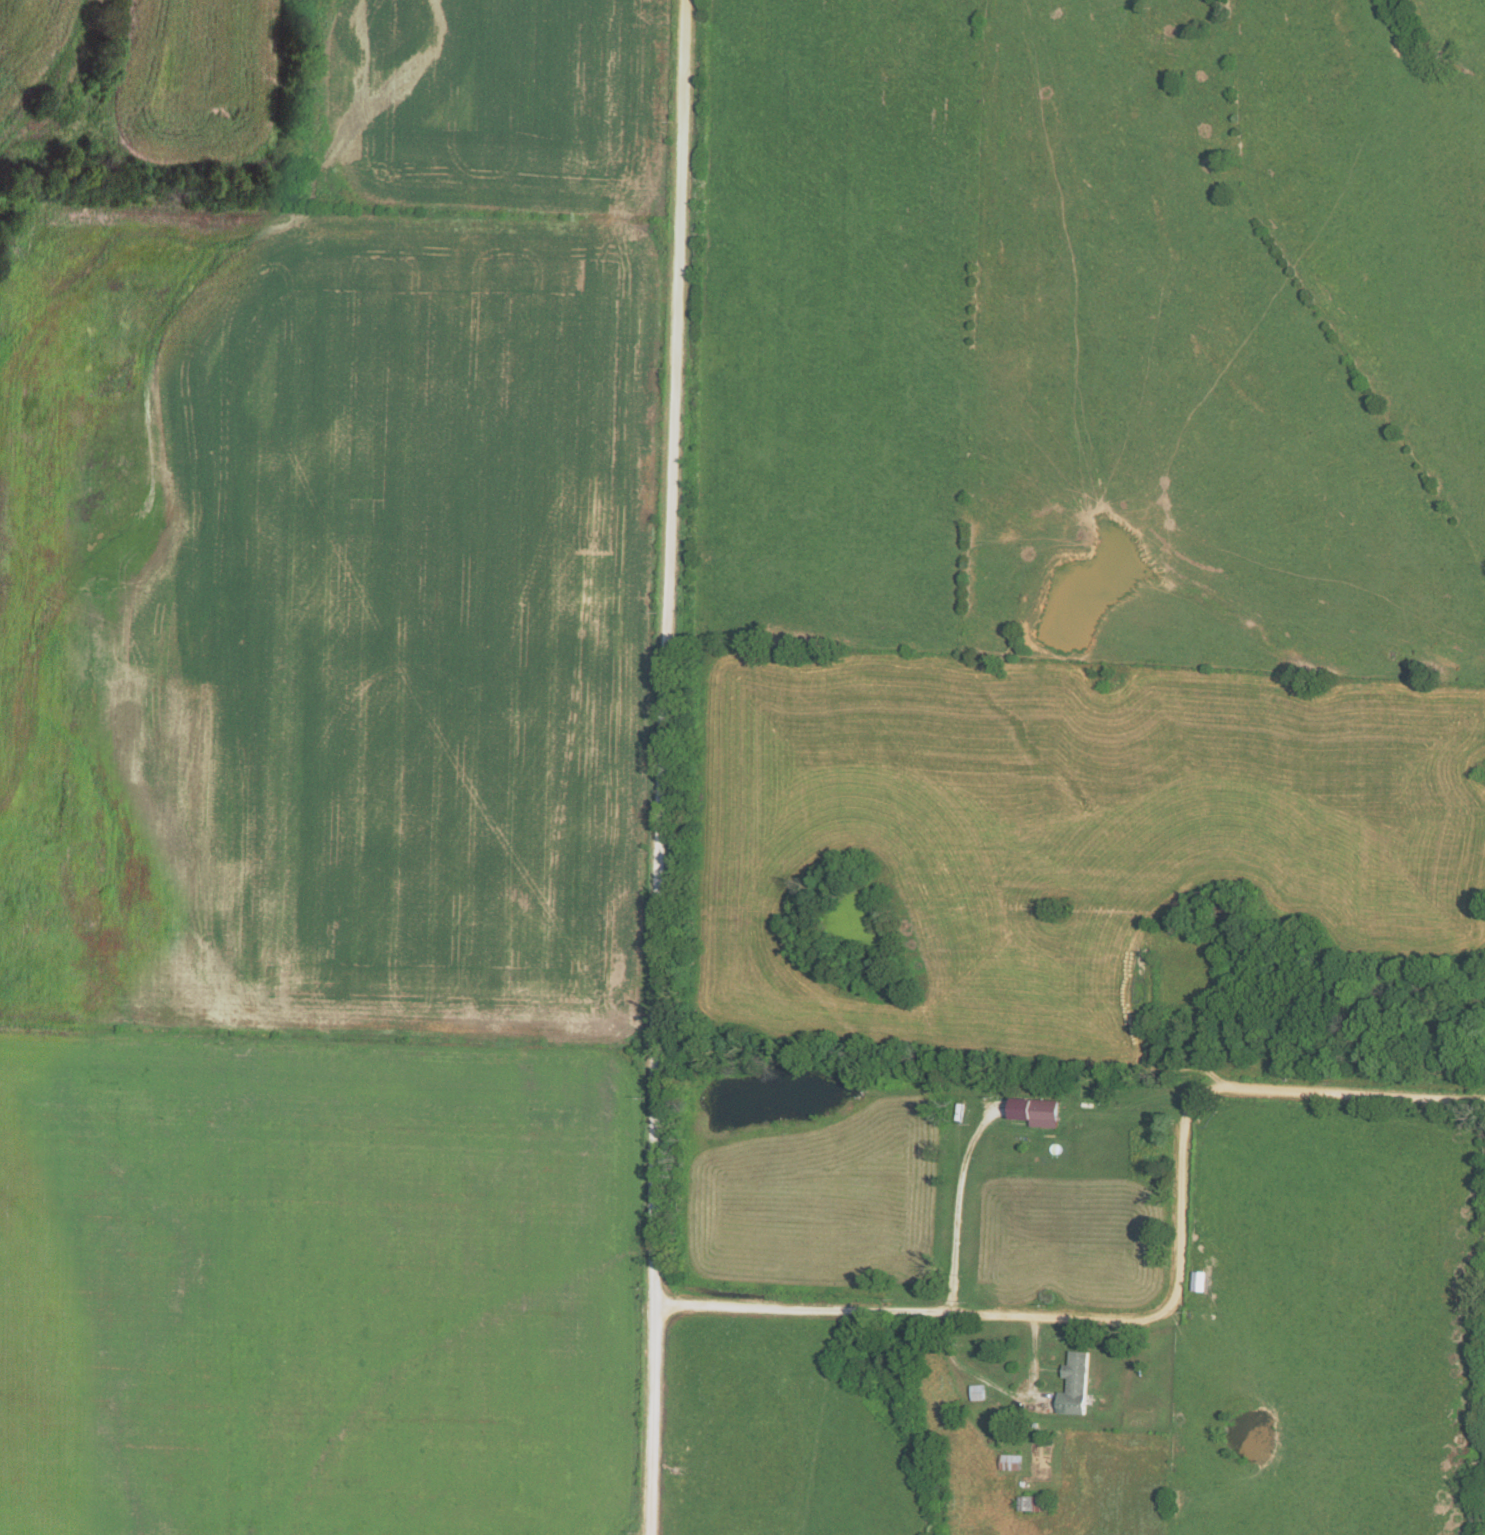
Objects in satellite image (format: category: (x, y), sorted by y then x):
road: (668, 767)
building: (1036, 1111)
road: (951, 1199)
building: (1202, 1280)
road: (1165, 1302)
building: (1076, 1384)
road: (1004, 1387)
building: (977, 1391)

